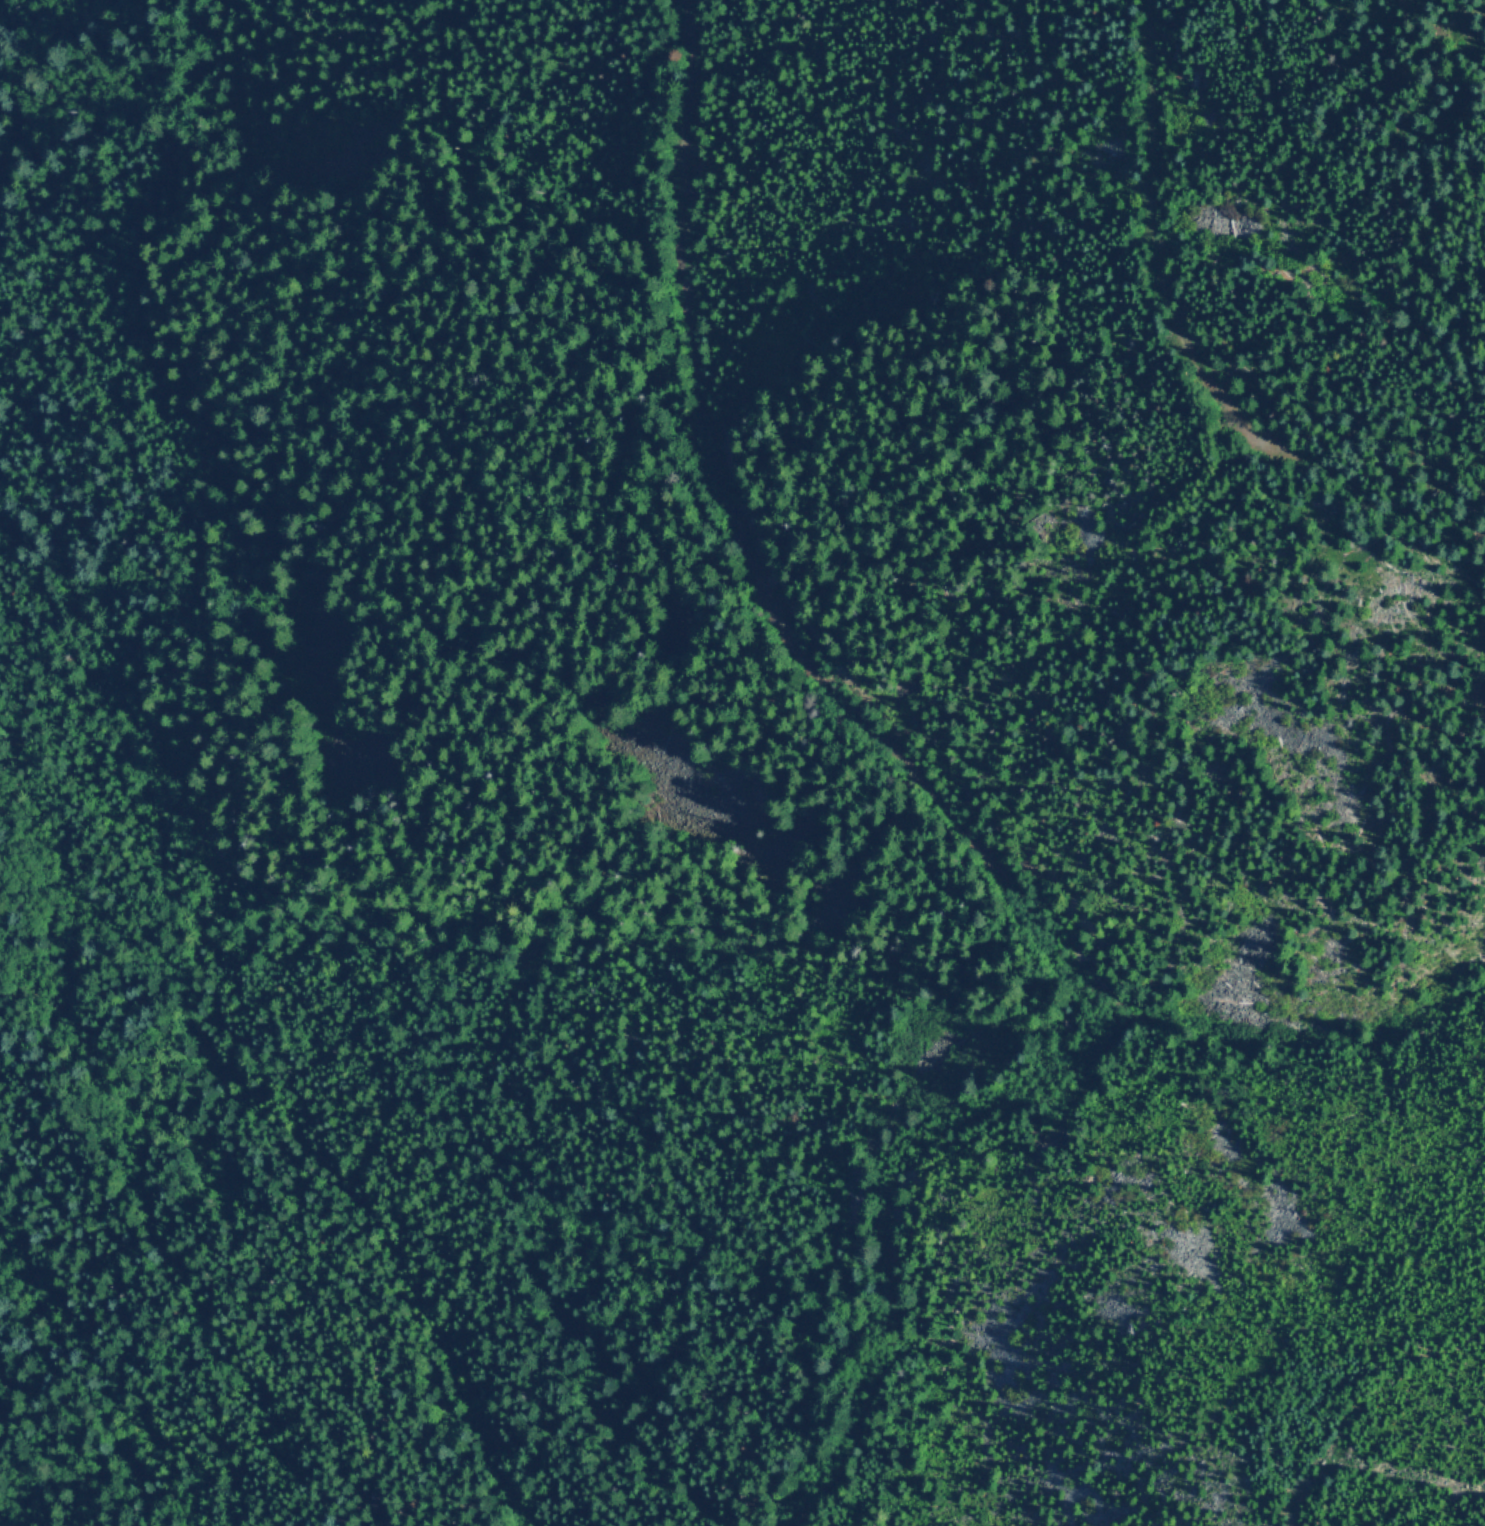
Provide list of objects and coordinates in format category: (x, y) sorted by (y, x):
road: (1191, 313)
road: (1158, 638)
road: (1043, 846)

